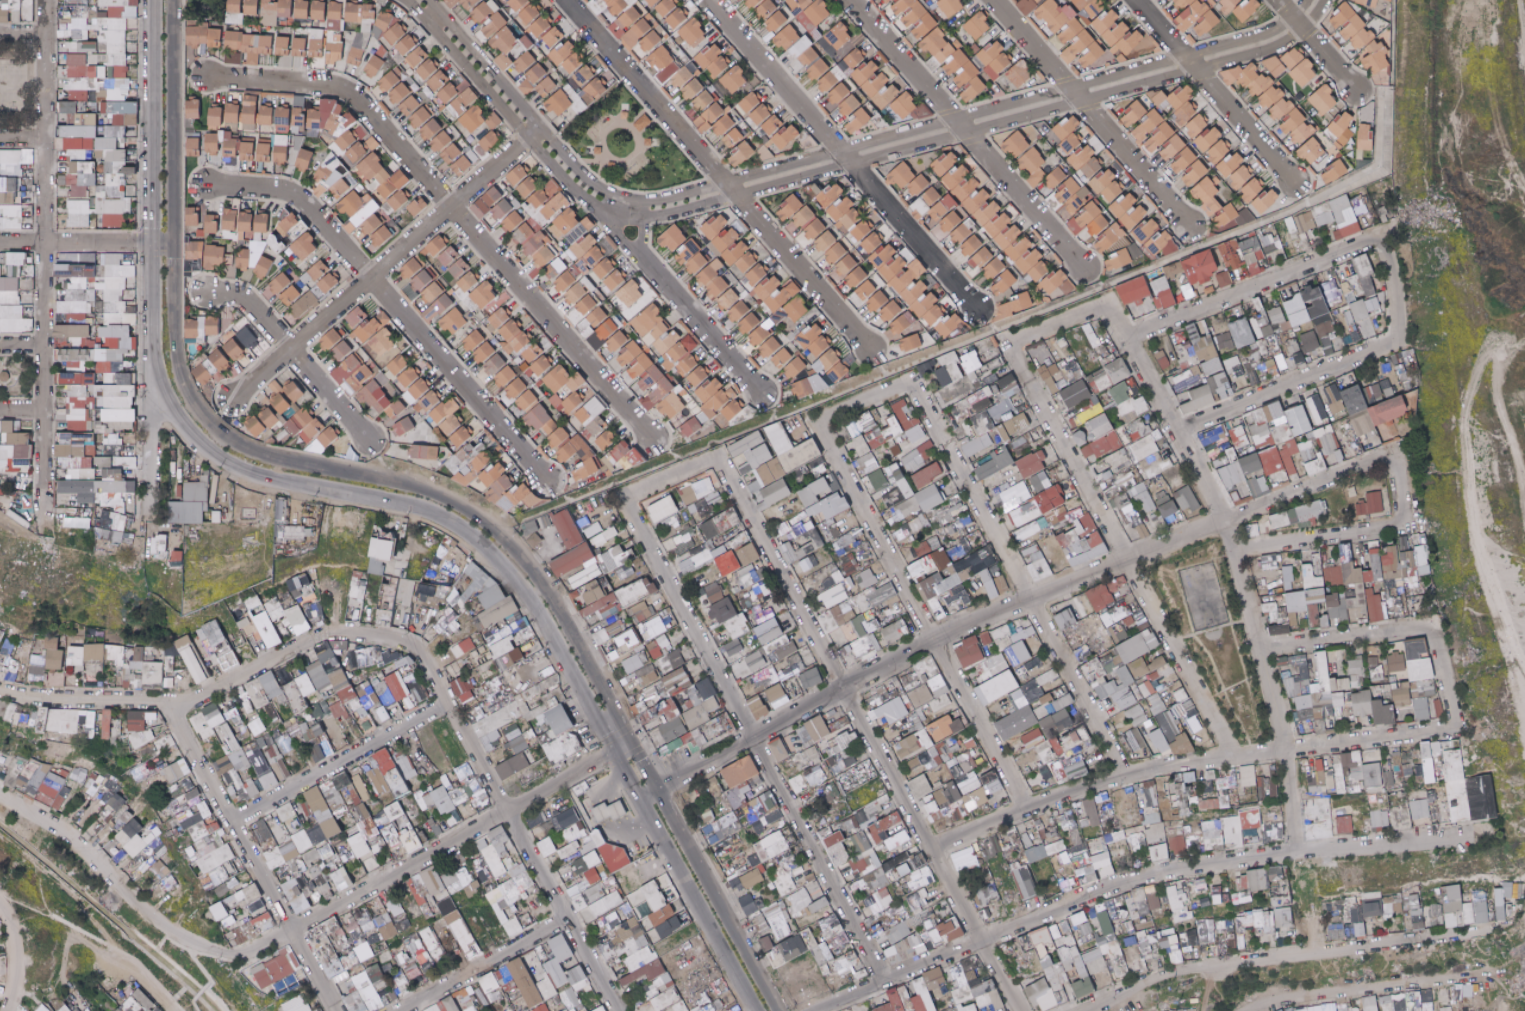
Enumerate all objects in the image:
park: (18, 77)
park: (632, 144)
park: (15, 376)
gas station: (616, 810)

